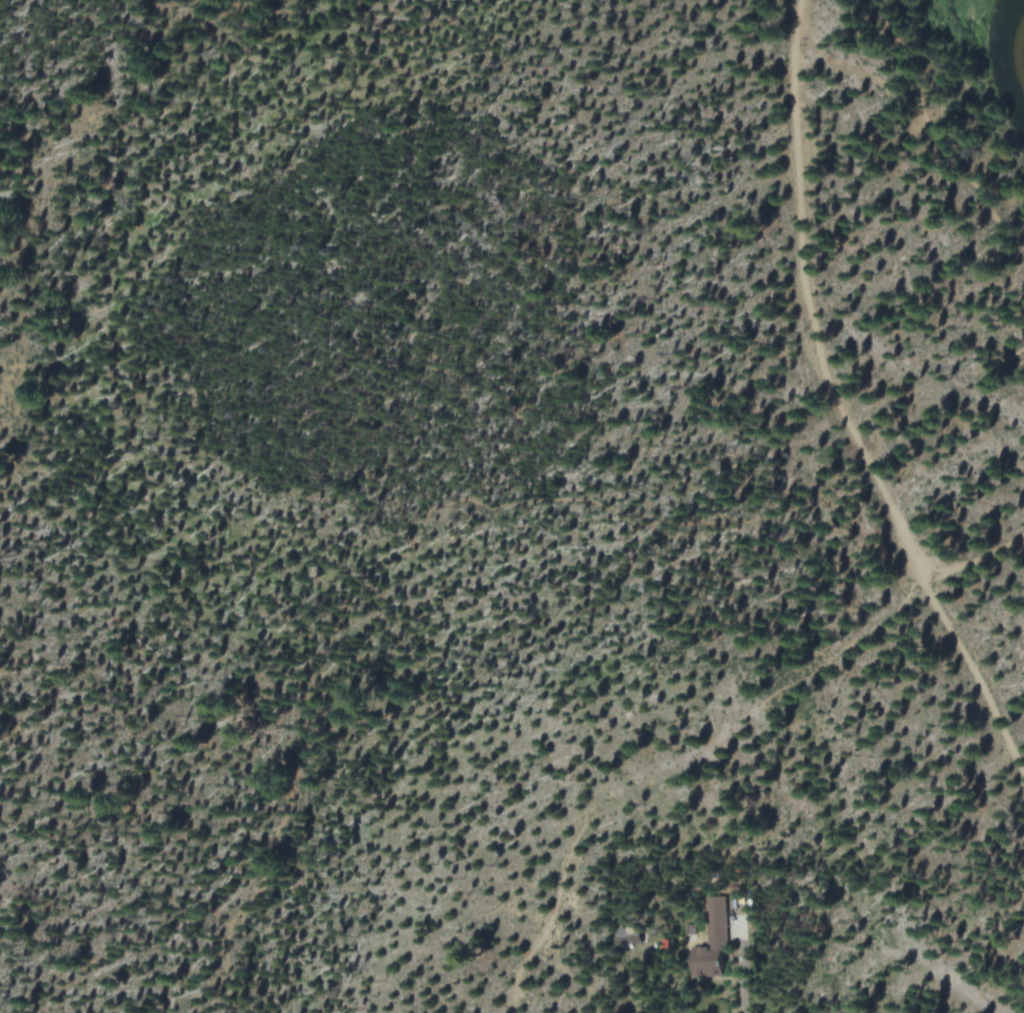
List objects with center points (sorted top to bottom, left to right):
road: (930, 129)
road: (836, 402)
road: (413, 529)
road: (714, 732)
building: (630, 935)
building: (711, 942)
road: (739, 962)

